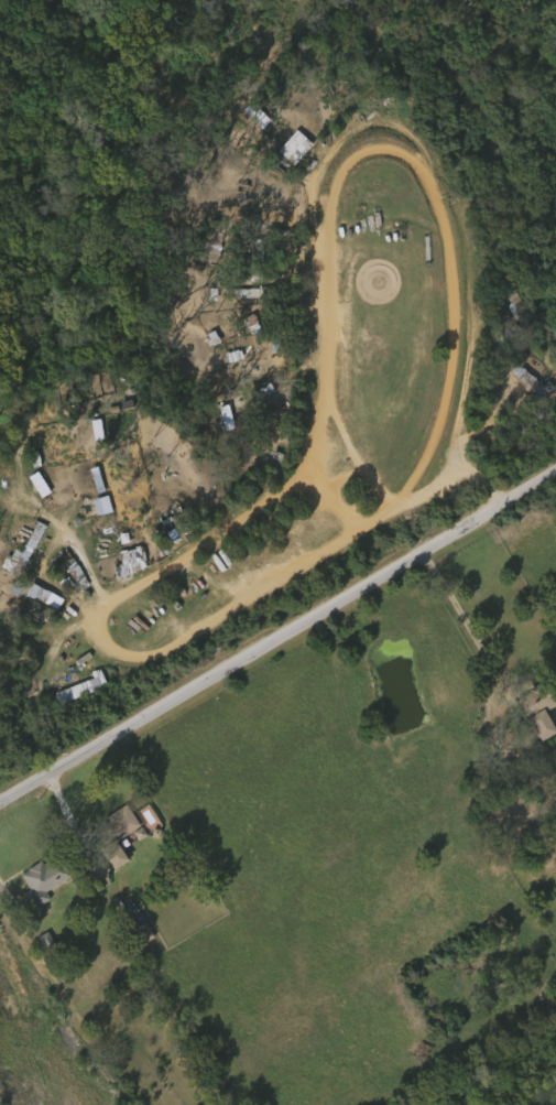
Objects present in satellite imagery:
building: (295, 150)
road: (397, 154)
building: (517, 334)
road: (356, 457)
building: (32, 484)
building: (61, 500)
building: (178, 520)
building: (33, 543)
building: (17, 552)
building: (120, 559)
road: (81, 563)
building: (66, 567)
building: (78, 572)
building: (13, 584)
building: (46, 597)
road: (460, 618)
road: (276, 644)
road: (152, 656)
building: (81, 690)
building: (541, 708)
building: (115, 835)
building: (48, 877)
building: (134, 933)
building: (40, 941)

